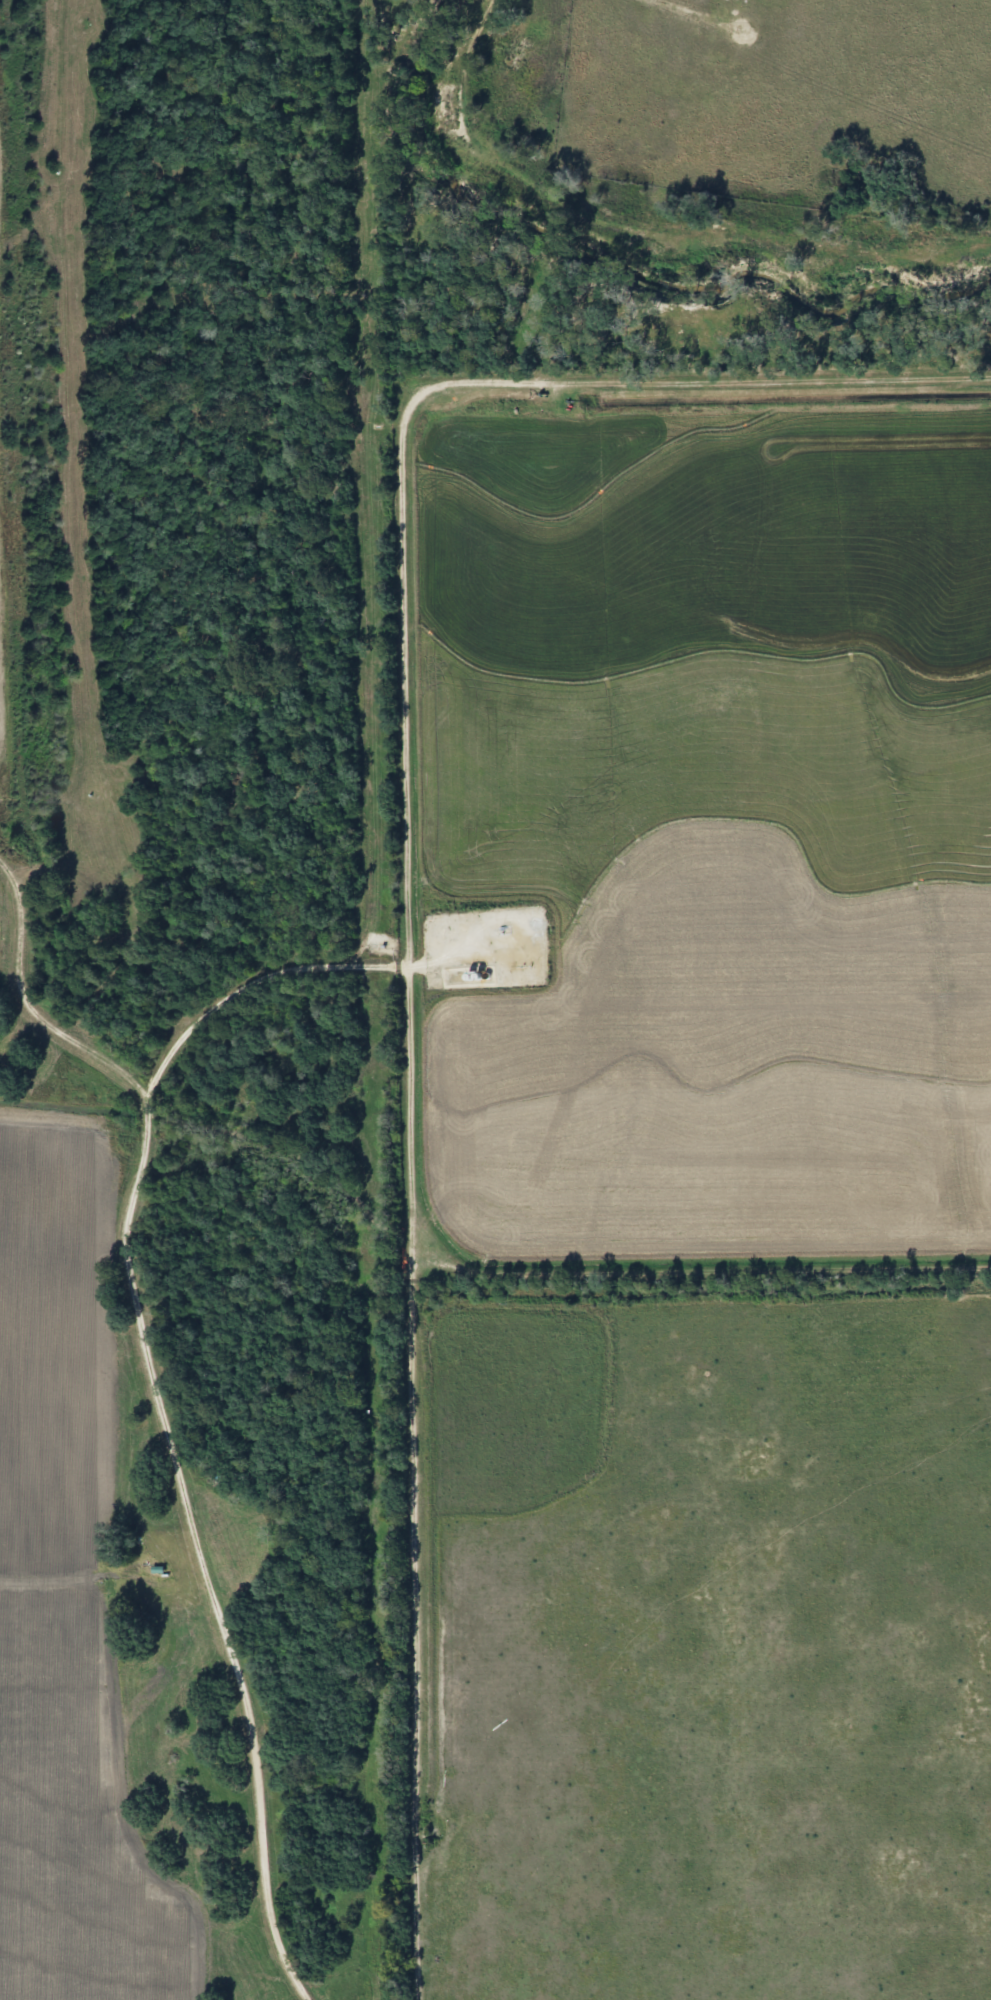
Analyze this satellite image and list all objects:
road: (152, 1388)
road: (412, 1474)

